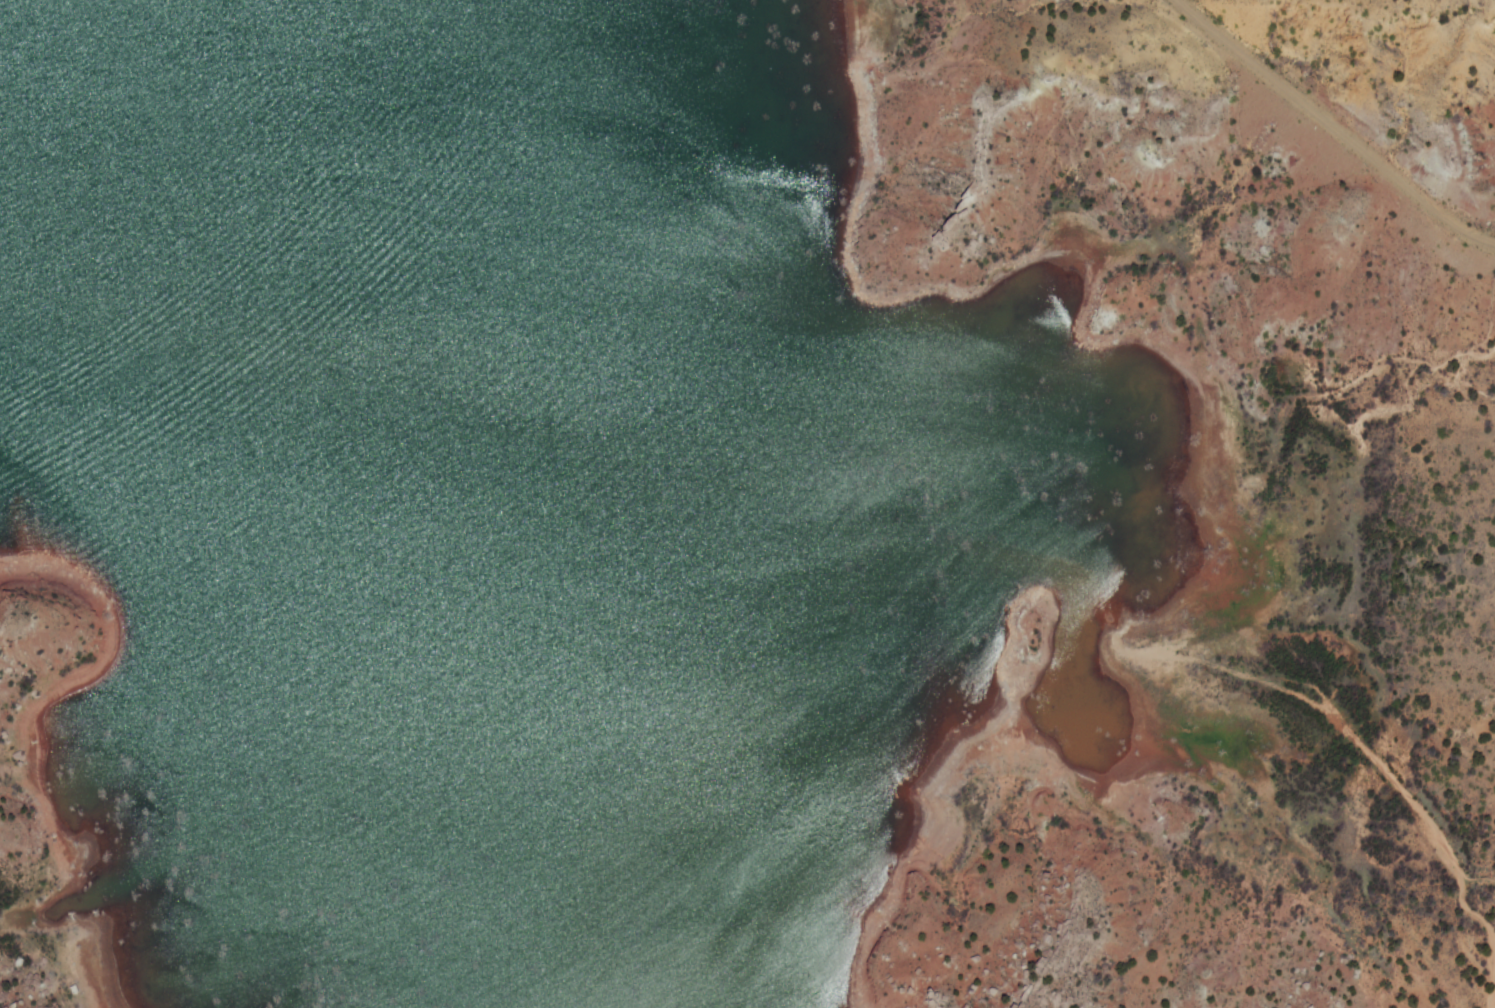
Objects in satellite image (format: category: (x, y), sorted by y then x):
road: (1333, 128)

